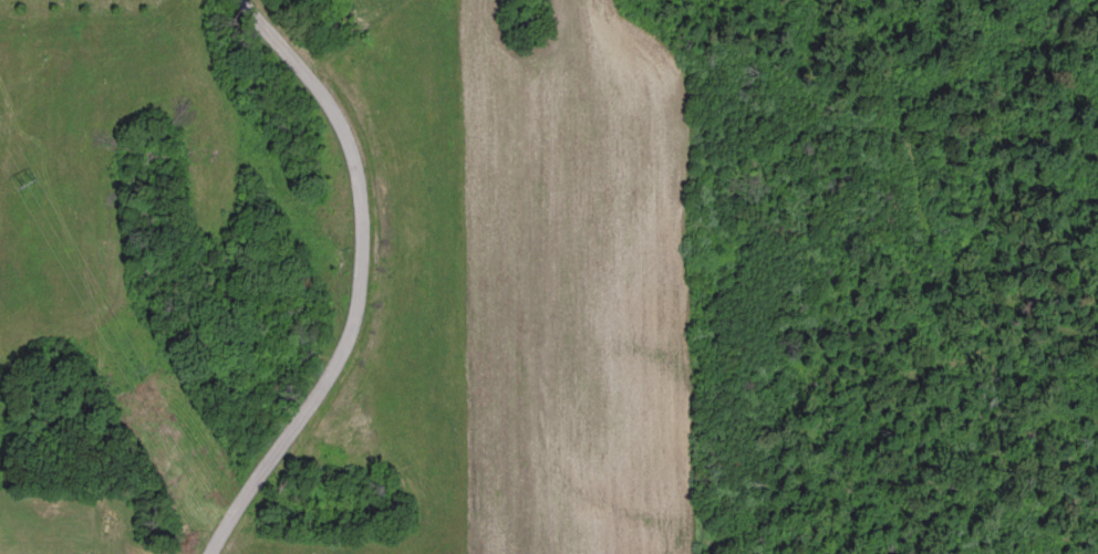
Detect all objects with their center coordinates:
road: (356, 278)

